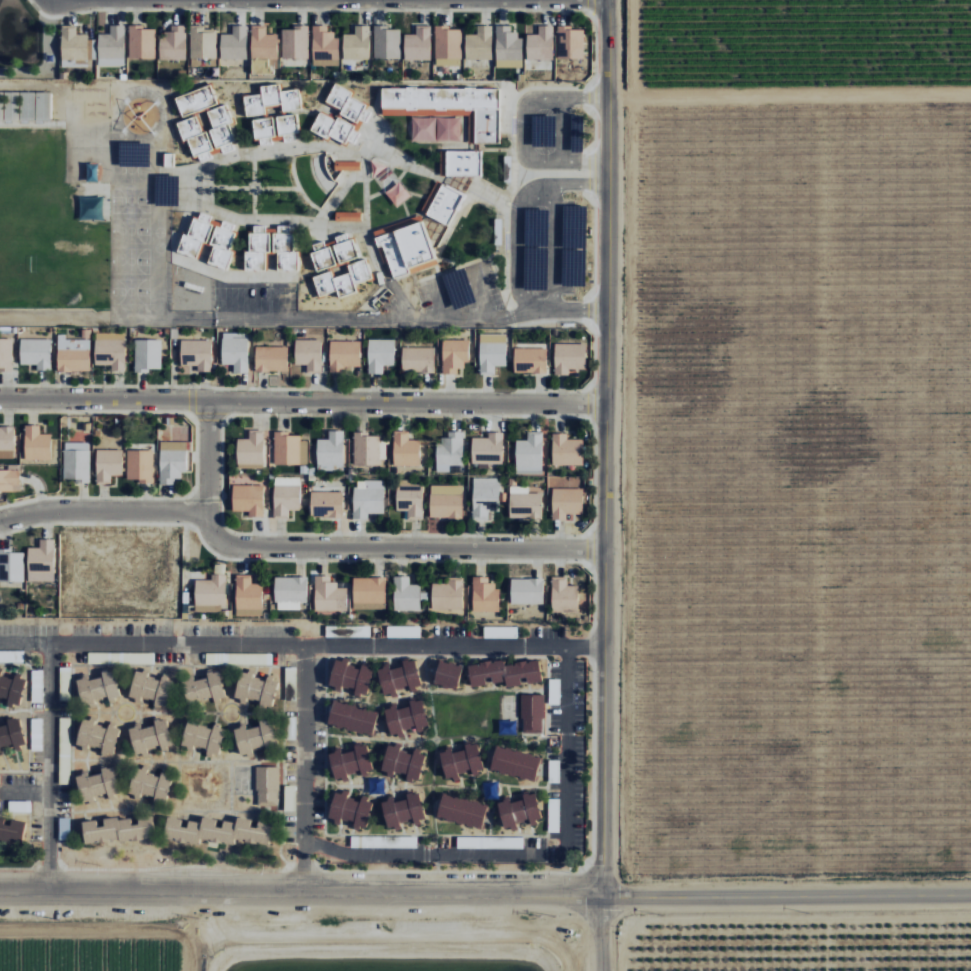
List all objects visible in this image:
building: (141, 42)
building: (386, 42)
building: (570, 42)
building: (263, 43)
building: (295, 43)
building: (173, 44)
building: (234, 44)
building: (357, 44)
building: (418, 44)
building: (479, 44)
building: (540, 44)
building: (203, 46)
building: (324, 46)
building: (447, 46)
building: (111, 47)
building: (507, 47)
building: (73, 48)
road: (787, 93)
road: (582, 96)
building: (271, 100)
building: (196, 101)
building: (17, 106)
building: (43, 107)
building: (453, 107)
building: (139, 117)
building: (342, 118)
building: (287, 124)
building: (263, 128)
building: (435, 129)
road: (559, 129)
road: (521, 151)
building: (460, 163)
building: (347, 166)
building: (442, 203)
building: (94, 208)
building: (348, 216)
building: (209, 240)
road: (552, 246)
building: (405, 247)
road: (515, 247)
building: (271, 249)
building: (334, 252)
building: (343, 280)
building: (110, 350)
building: (235, 351)
building: (35, 352)
building: (6, 353)
building: (196, 353)
building: (73, 354)
building: (147, 354)
building: (308, 354)
building: (343, 354)
building: (380, 354)
building: (491, 354)
building: (454, 355)
building: (569, 357)
building: (271, 358)
building: (417, 359)
building: (530, 360)
road: (300, 401)
building: (7, 442)
building: (36, 443)
building: (487, 448)
building: (250, 449)
building: (289, 449)
building: (367, 449)
building: (405, 449)
building: (449, 450)
building: (566, 450)
building: (330, 451)
building: (529, 454)
road: (206, 455)
building: (76, 461)
building: (171, 461)
building: (108, 465)
building: (140, 465)
building: (9, 480)
road: (601, 485)
building: (285, 495)
building: (484, 497)
building: (408, 498)
building: (248, 499)
building: (368, 499)
building: (446, 501)
building: (566, 502)
building: (326, 503)
building: (524, 503)
road: (289, 544)
building: (41, 561)
building: (11, 565)
building: (211, 587)
building: (526, 591)
building: (290, 592)
building: (368, 593)
building: (326, 594)
building: (405, 594)
building: (447, 594)
building: (484, 594)
building: (563, 595)
building: (248, 596)
building: (207, 608)
building: (359, 631)
building: (403, 632)
building: (499, 632)
road: (300, 644)
building: (120, 658)
building: (235, 658)
building: (505, 672)
building: (290, 674)
building: (448, 674)
building: (399, 677)
building: (350, 678)
building: (203, 687)
building: (11, 688)
building: (98, 688)
building: (150, 688)
building: (255, 689)
building: (532, 713)
building: (352, 717)
building: (406, 717)
building: (290, 728)
building: (11, 734)
building: (97, 736)
building: (150, 737)
building: (203, 738)
building: (255, 738)
building: (461, 760)
building: (350, 762)
building: (403, 762)
building: (515, 762)
road: (49, 766)
road: (303, 768)
building: (149, 784)
building: (97, 785)
building: (267, 786)
building: (289, 798)
building: (20, 806)
building: (350, 810)
building: (402, 810)
building: (462, 810)
building: (519, 810)
building: (63, 825)
building: (117, 829)
building: (11, 830)
building: (217, 831)
building: (501, 842)
road: (485, 894)
road: (569, 923)
road: (94, 936)
road: (388, 936)
crop: (294, 943)
road: (188, 954)

